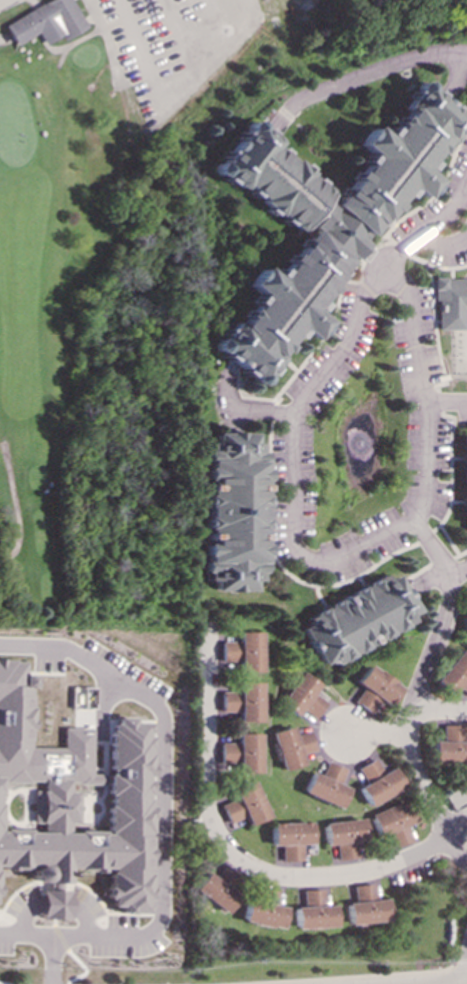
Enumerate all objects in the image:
parking lot: (172, 4)
building: (46, 22)
road: (4, 39)
road: (75, 41)
road: (107, 43)
road: (374, 70)
building: (322, 219)
road: (428, 227)
park: (121, 271)
building: (452, 303)
road: (449, 402)
road: (261, 410)
building: (465, 478)
road: (15, 505)
building: (234, 511)
road: (9, 538)
road: (337, 556)
building: (357, 618)
building: (242, 651)
building: (454, 673)
building: (375, 689)
road: (417, 695)
building: (84, 696)
building: (302, 696)
building: (242, 701)
road: (440, 711)
road: (379, 735)
building: (291, 746)
building: (450, 746)
building: (241, 752)
road: (164, 780)
building: (376, 782)
building: (326, 784)
building: (75, 803)
building: (244, 804)
building: (393, 822)
road: (458, 831)
building: (345, 836)
building: (290, 838)
road: (234, 854)
building: (217, 888)
building: (365, 905)
building: (263, 908)
building: (313, 911)
road: (26, 935)
road: (53, 960)
road: (458, 966)
road: (338, 977)
road: (2, 983)

